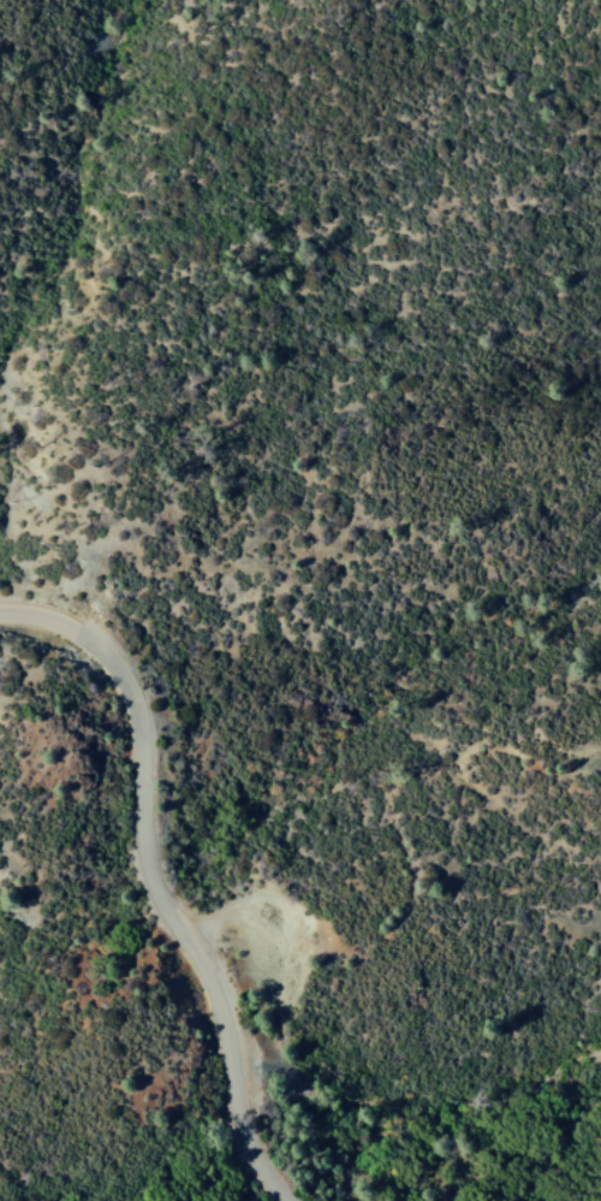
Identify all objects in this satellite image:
road: (159, 880)

